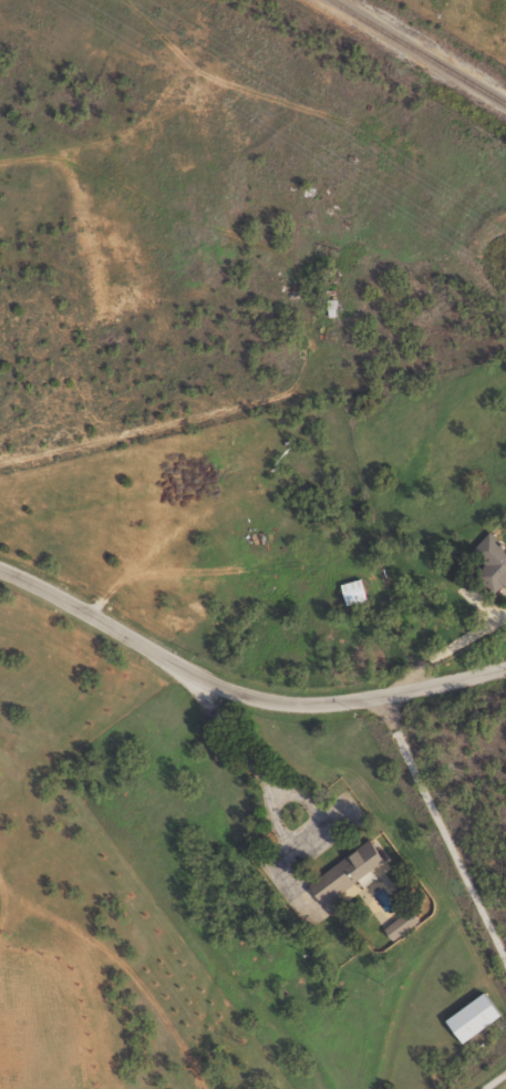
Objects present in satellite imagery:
railway: (416, 52)
building: (492, 562)
building: (351, 592)
road: (239, 692)
road: (442, 826)
building: (353, 872)
building: (405, 924)
building: (478, 1017)
road: (490, 1078)

